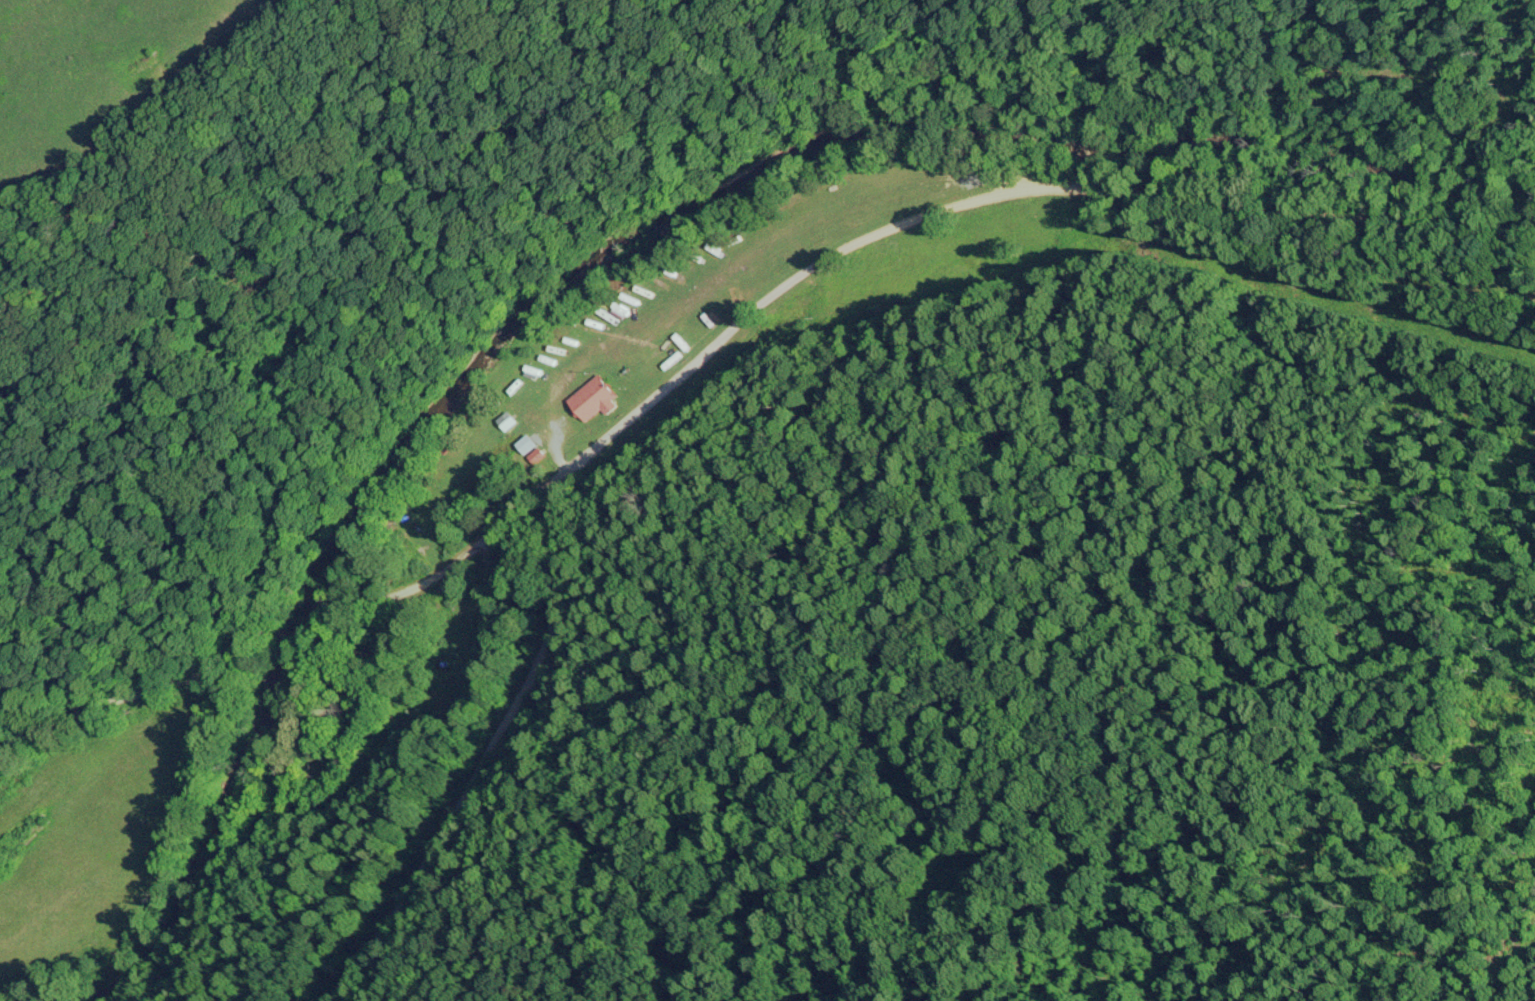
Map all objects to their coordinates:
river: (625, 239)
road: (726, 329)
building: (596, 395)
road: (488, 753)

